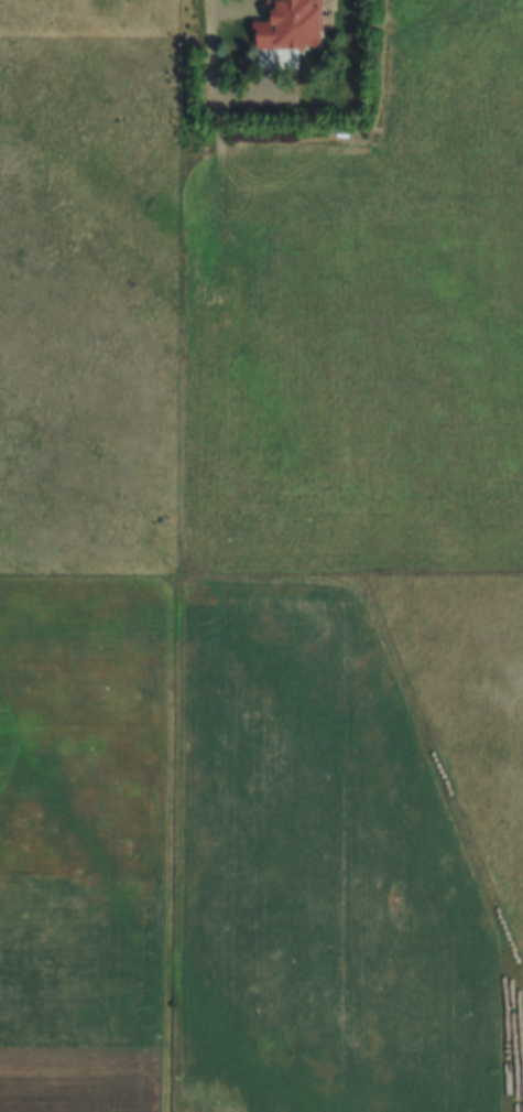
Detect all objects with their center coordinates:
building: (280, 15)

